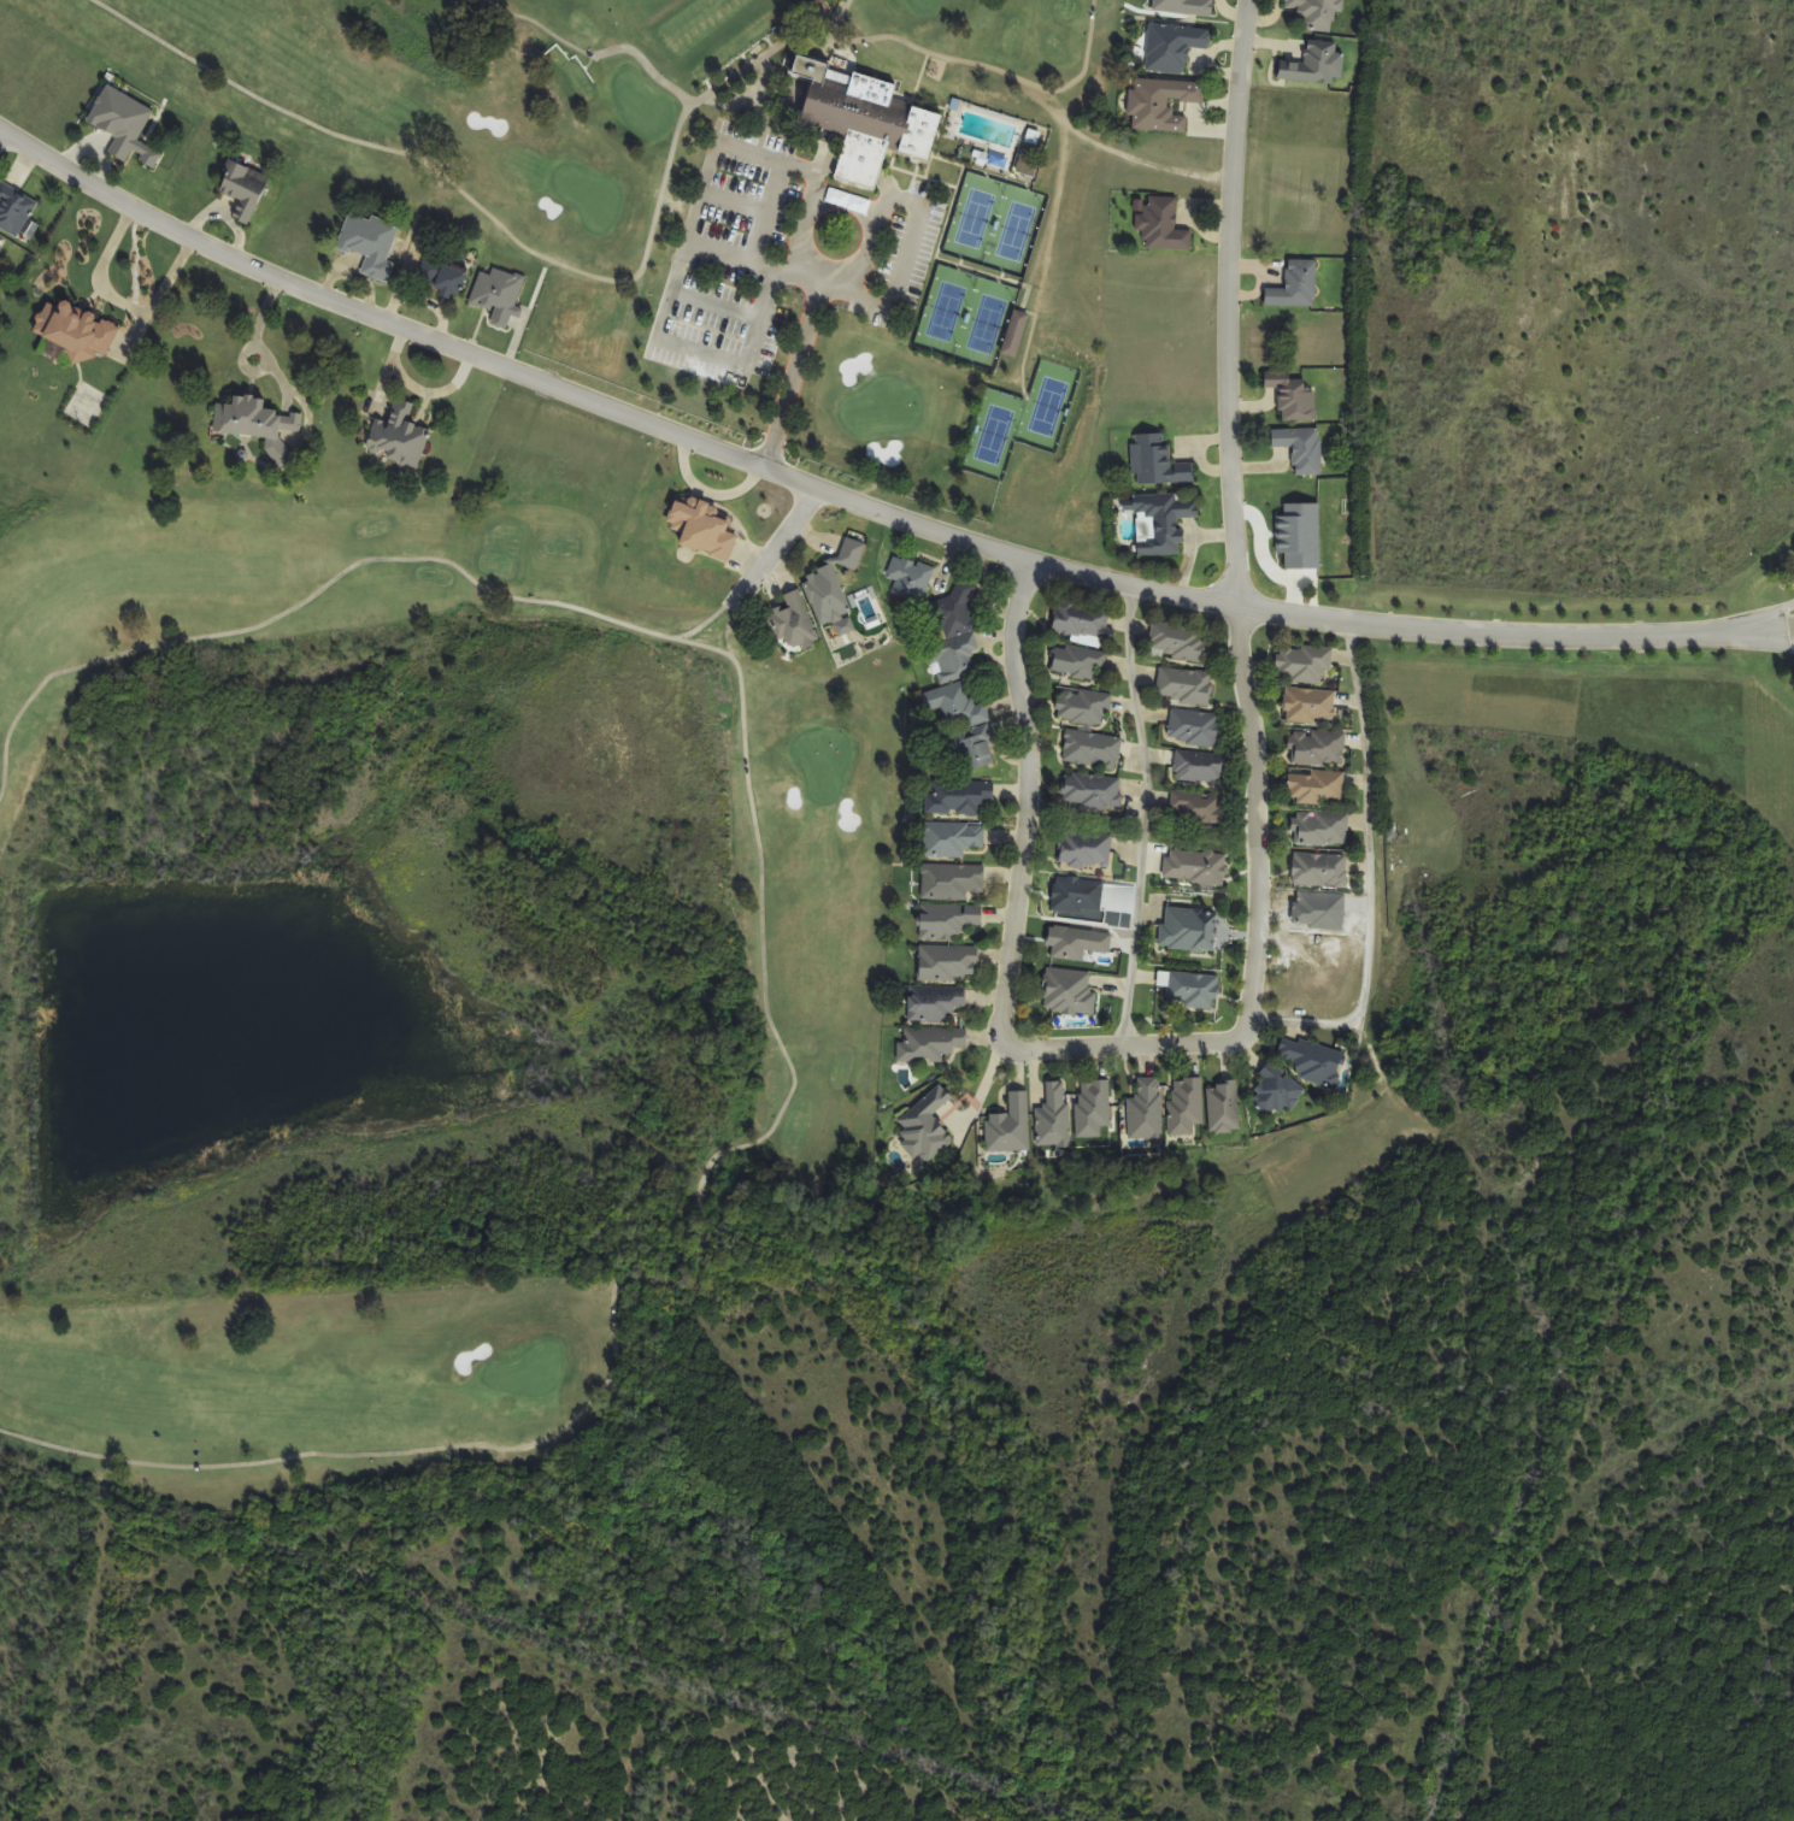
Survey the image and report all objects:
building: (1178, 7)
building: (1317, 12)
road: (767, 49)
building: (1174, 49)
road: (592, 53)
road: (987, 70)
building: (1164, 108)
building: (857, 120)
building: (120, 124)
building: (1028, 164)
road: (706, 167)
road: (448, 178)
building: (242, 190)
building: (14, 210)
building: (1165, 226)
building: (371, 246)
building: (0, 252)
building: (443, 276)
building: (1296, 287)
building: (492, 296)
building: (70, 332)
building: (1016, 334)
road: (257, 341)
road: (696, 353)
road: (418, 388)
building: (1295, 401)
building: (247, 419)
building: (392, 449)
building: (1301, 449)
building: (1157, 462)
road: (863, 511)
road: (1231, 520)
building: (1166, 521)
building: (706, 530)
building: (852, 554)
road: (767, 556)
building: (906, 581)
building: (824, 597)
building: (1081, 621)
building: (790, 623)
building: (954, 633)
building: (1178, 641)
building: (1077, 661)
building: (1305, 664)
park: (474, 666)
building: (1184, 686)
building: (1311, 706)
building: (1084, 707)
building: (946, 712)
building: (1194, 729)
building: (1093, 749)
building: (1318, 749)
building: (960, 750)
building: (1199, 768)
building: (1317, 789)
building: (1093, 791)
building: (952, 802)
road: (1027, 806)
building: (1199, 809)
road: (1143, 819)
building: (1322, 829)
building: (953, 842)
building: (1086, 850)
building: (1195, 868)
building: (1320, 871)
road: (1367, 876)
building: (947, 880)
building: (952, 923)
building: (1190, 930)
building: (946, 962)
road: (763, 963)
building: (1190, 989)
building: (1070, 992)
building: (935, 1006)
building: (933, 1048)
road: (1125, 1048)
building: (1311, 1060)
building: (1276, 1092)
building: (1187, 1106)
building: (1093, 1108)
building: (1224, 1108)
building: (1146, 1110)
building: (1054, 1118)
building: (1011, 1126)
building: (924, 1135)

